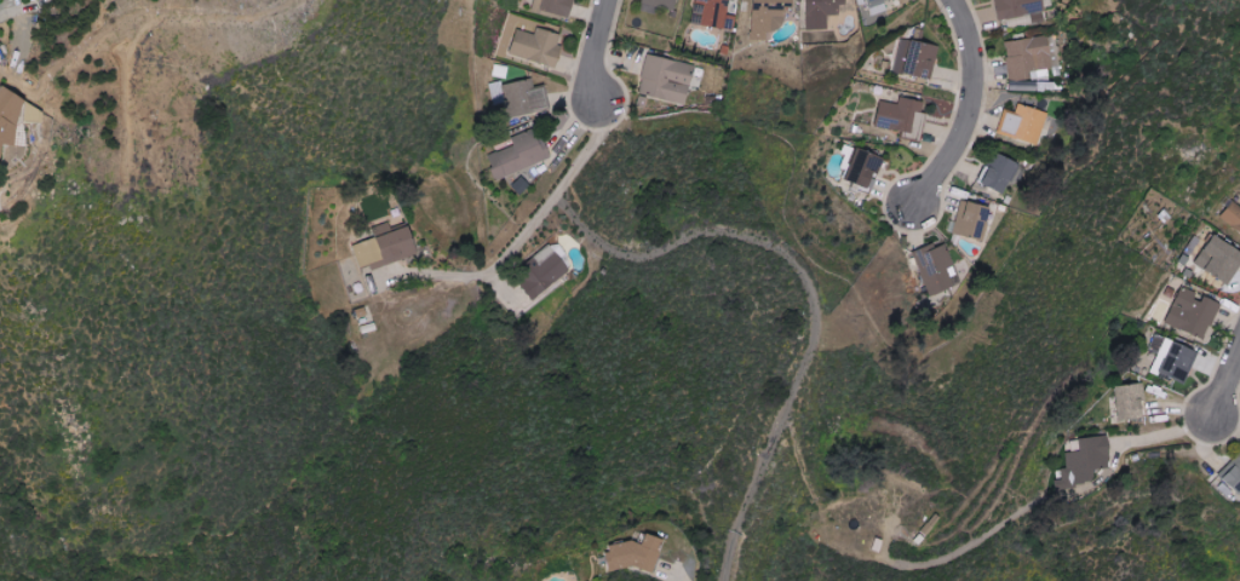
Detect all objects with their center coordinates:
building: (662, 4)
road: (21, 6)
building: (558, 6)
building: (878, 6)
building: (1022, 11)
building: (822, 12)
building: (714, 13)
building: (770, 16)
building: (538, 46)
road: (593, 50)
building: (915, 58)
building: (667, 79)
building: (524, 98)
road: (970, 107)
building: (903, 116)
building: (15, 117)
building: (1023, 123)
building: (519, 157)
building: (866, 167)
building: (1001, 173)
building: (1229, 215)
building: (974, 219)
road: (529, 229)
building: (397, 241)
building: (1215, 260)
road: (799, 268)
building: (938, 269)
building: (547, 271)
building: (1188, 313)
building: (1169, 362)
road: (1225, 380)
building: (1125, 402)
road: (1179, 409)
road: (1225, 420)
road: (1164, 435)
road: (1204, 443)
building: (1085, 454)
building: (1230, 474)
building: (1058, 482)
building: (639, 554)
road: (728, 556)

